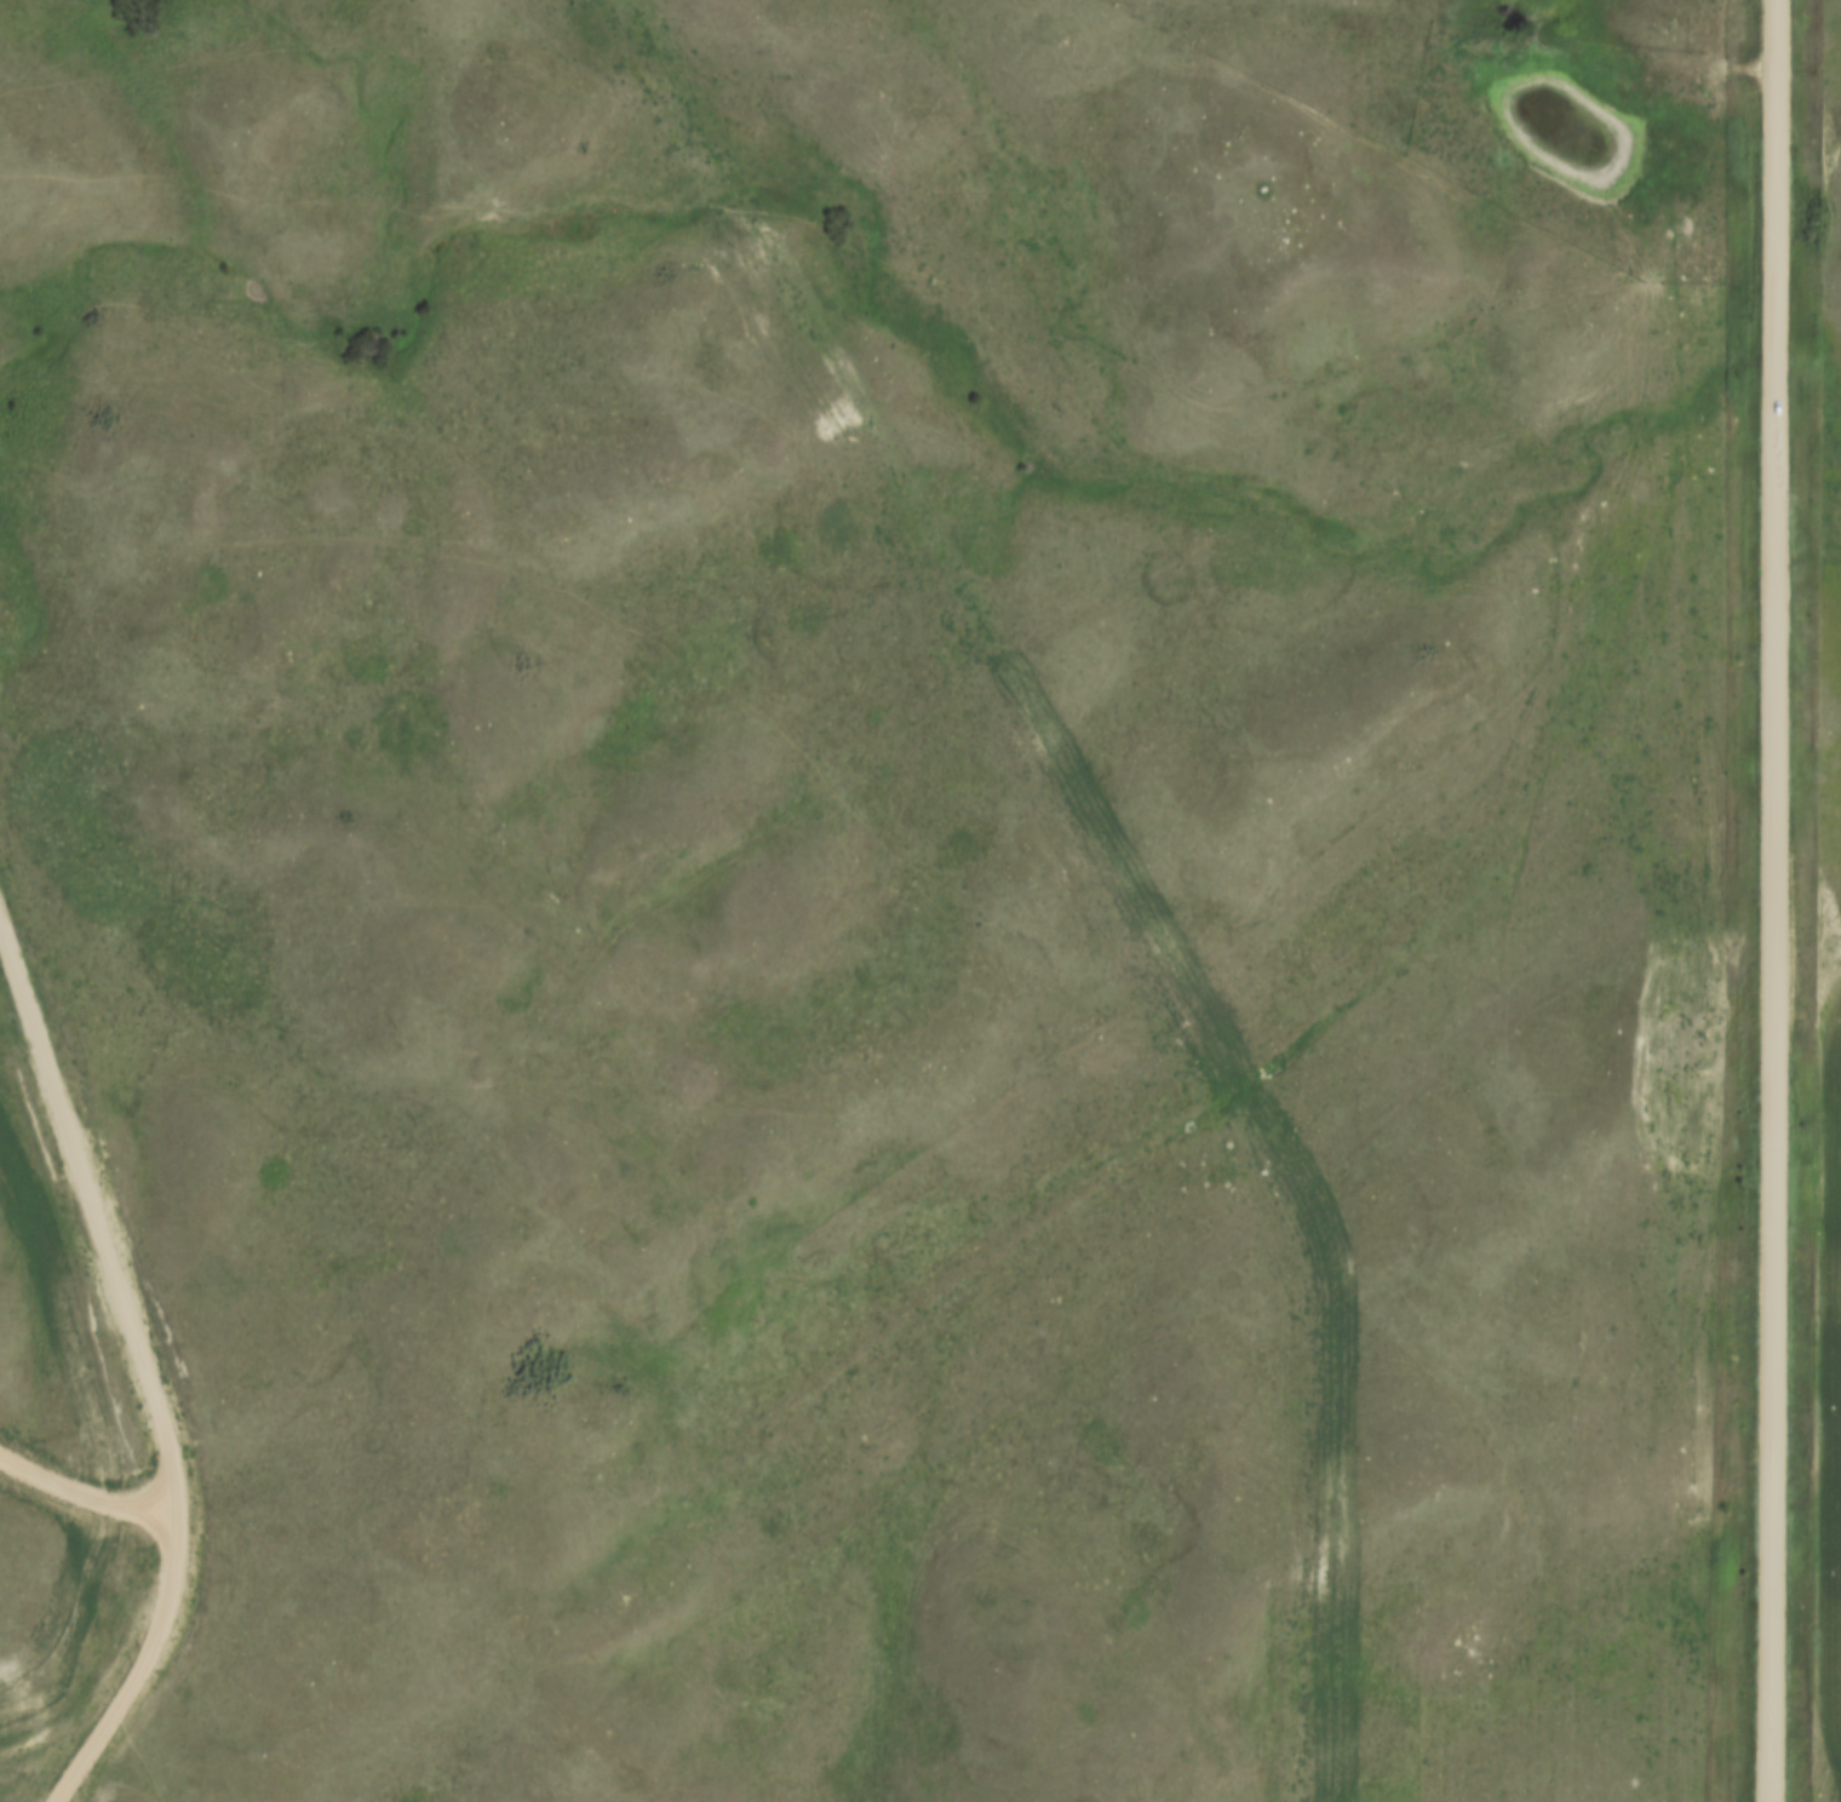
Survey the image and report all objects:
road: (1777, 900)
road: (144, 1361)

